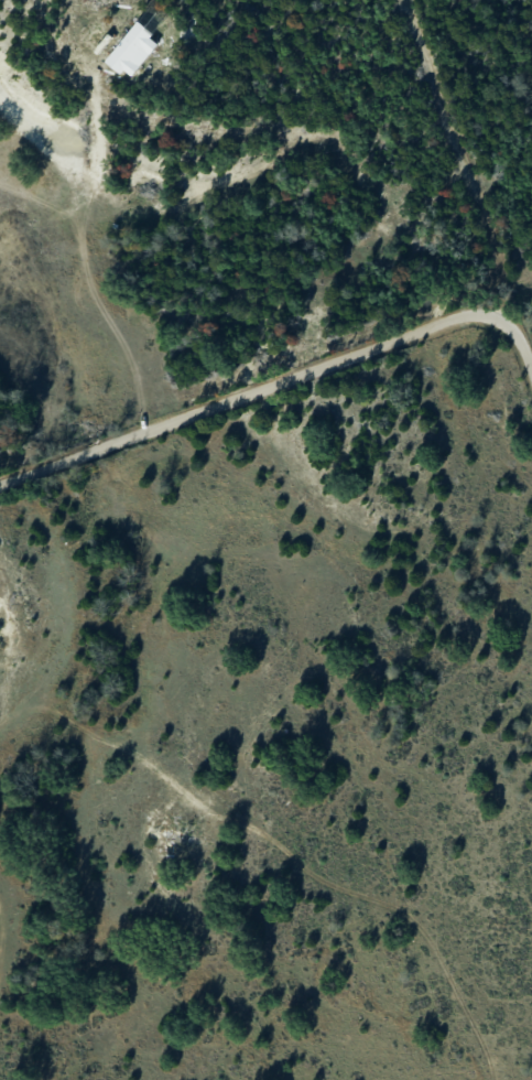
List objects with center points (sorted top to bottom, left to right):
building: (132, 51)
road: (278, 379)

